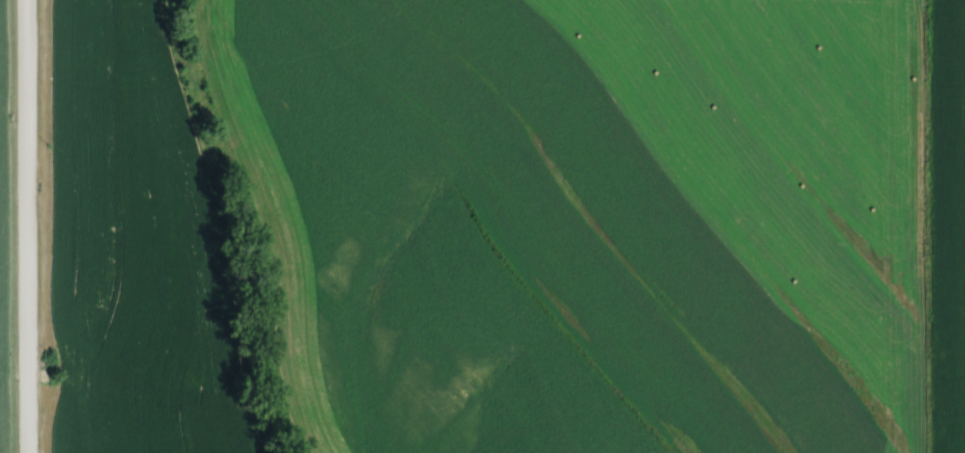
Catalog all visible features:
road: (28, 226)

